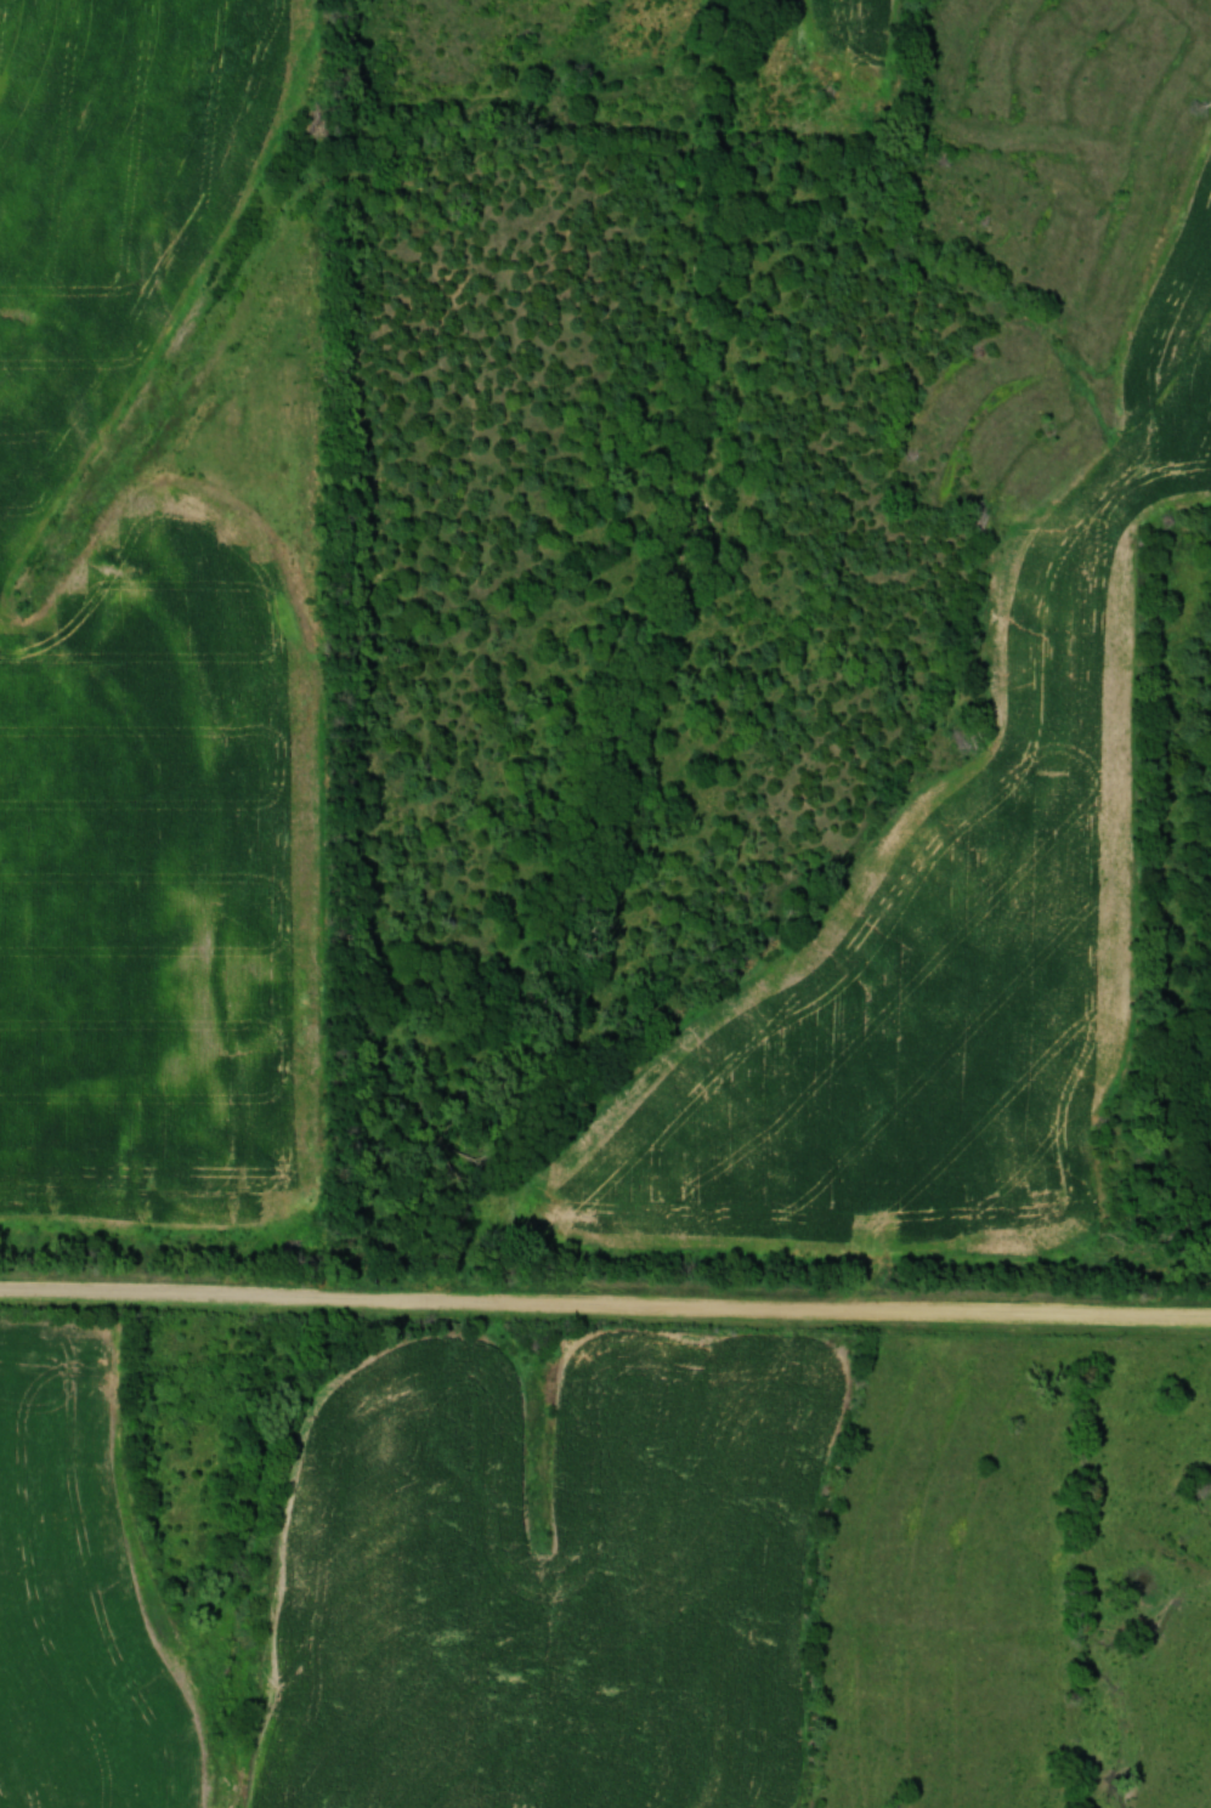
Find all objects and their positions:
road: (605, 1310)

